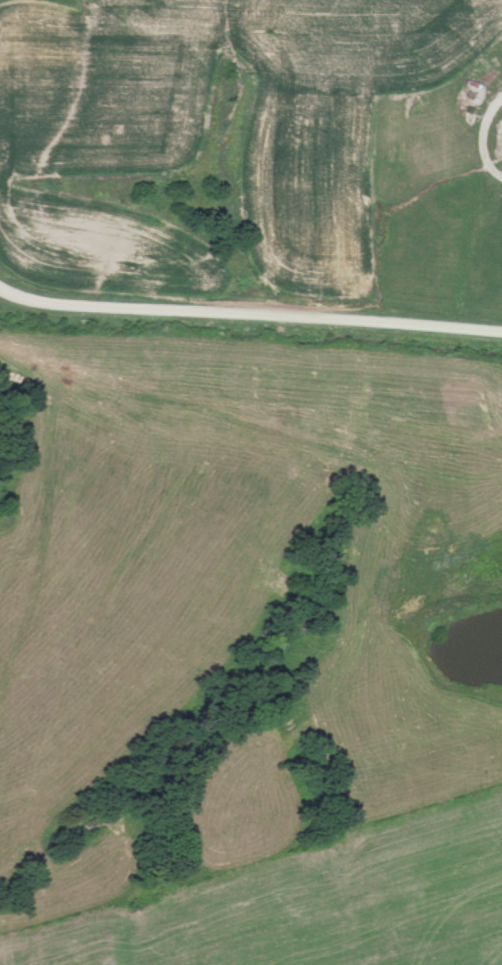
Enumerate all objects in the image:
road: (249, 311)

